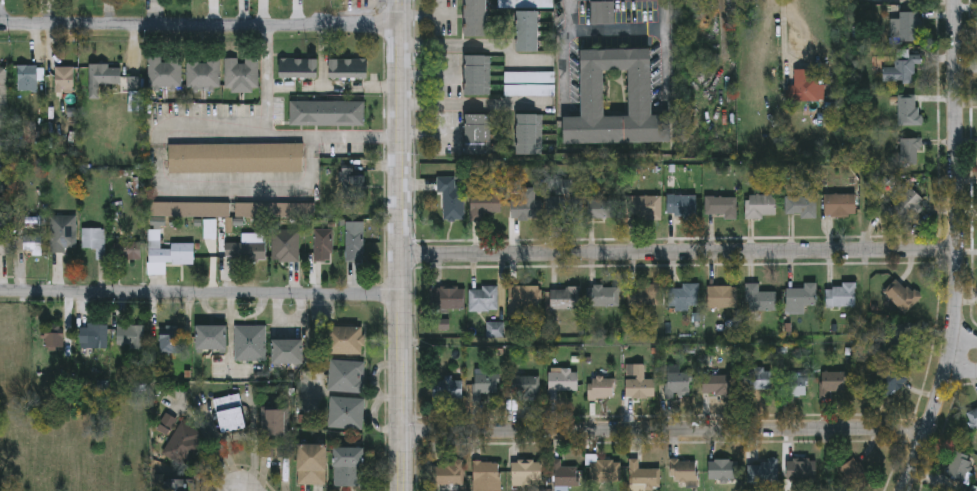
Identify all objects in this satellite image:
building: (152, 6)
building: (603, 14)
road: (663, 14)
road: (565, 15)
building: (477, 19)
road: (200, 24)
building: (907, 28)
road: (614, 30)
road: (793, 30)
building: (529, 33)
road: (475, 47)
road: (323, 55)
road: (665, 65)
road: (566, 67)
building: (299, 69)
building: (349, 70)
building: (903, 70)
building: (165, 72)
building: (203, 74)
building: (241, 74)
building: (479, 77)
building: (103, 78)
building: (28, 79)
building: (65, 79)
building: (529, 84)
building: (805, 88)
building: (641, 93)
building: (3, 98)
road: (475, 105)
building: (909, 112)
building: (328, 115)
road: (278, 133)
road: (427, 135)
building: (479, 136)
building: (531, 136)
building: (911, 152)
building: (236, 159)
road: (182, 186)
building: (354, 188)
building: (452, 200)
building: (906, 203)
building: (484, 205)
building: (682, 207)
building: (801, 207)
building: (841, 207)
building: (527, 208)
building: (722, 208)
building: (761, 208)
building: (646, 209)
building: (603, 210)
building: (566, 211)
building: (5, 235)
building: (64, 235)
building: (94, 242)
road: (401, 245)
building: (33, 246)
building: (285, 247)
building: (323, 247)
building: (354, 247)
road: (957, 250)
building: (129, 252)
building: (171, 253)
road: (679, 253)
building: (246, 254)
road: (200, 293)
building: (842, 296)
building: (645, 297)
building: (684, 297)
building: (902, 297)
building: (603, 298)
building: (567, 299)
building: (723, 299)
building: (802, 299)
building: (448, 300)
building: (484, 300)
building: (525, 300)
building: (759, 300)
road: (967, 335)
building: (93, 337)
building: (55, 338)
building: (131, 338)
building: (213, 339)
building: (172, 341)
building: (346, 341)
building: (250, 344)
building: (289, 353)
road: (962, 372)
building: (347, 378)
building: (890, 380)
building: (759, 381)
building: (562, 383)
building: (639, 384)
building: (678, 384)
building: (833, 384)
building: (717, 385)
building: (793, 387)
building: (488, 389)
building: (528, 389)
building: (448, 390)
building: (602, 390)
building: (230, 414)
building: (347, 414)
building: (972, 420)
building: (276, 427)
road: (664, 429)
building: (184, 447)
building: (313, 466)
building: (350, 468)
building: (960, 468)
building: (606, 471)
building: (684, 471)
building: (724, 471)
building: (803, 471)
building: (764, 473)
building: (528, 474)
building: (565, 476)
building: (643, 476)
building: (487, 477)
building: (449, 478)
building: (176, 486)

